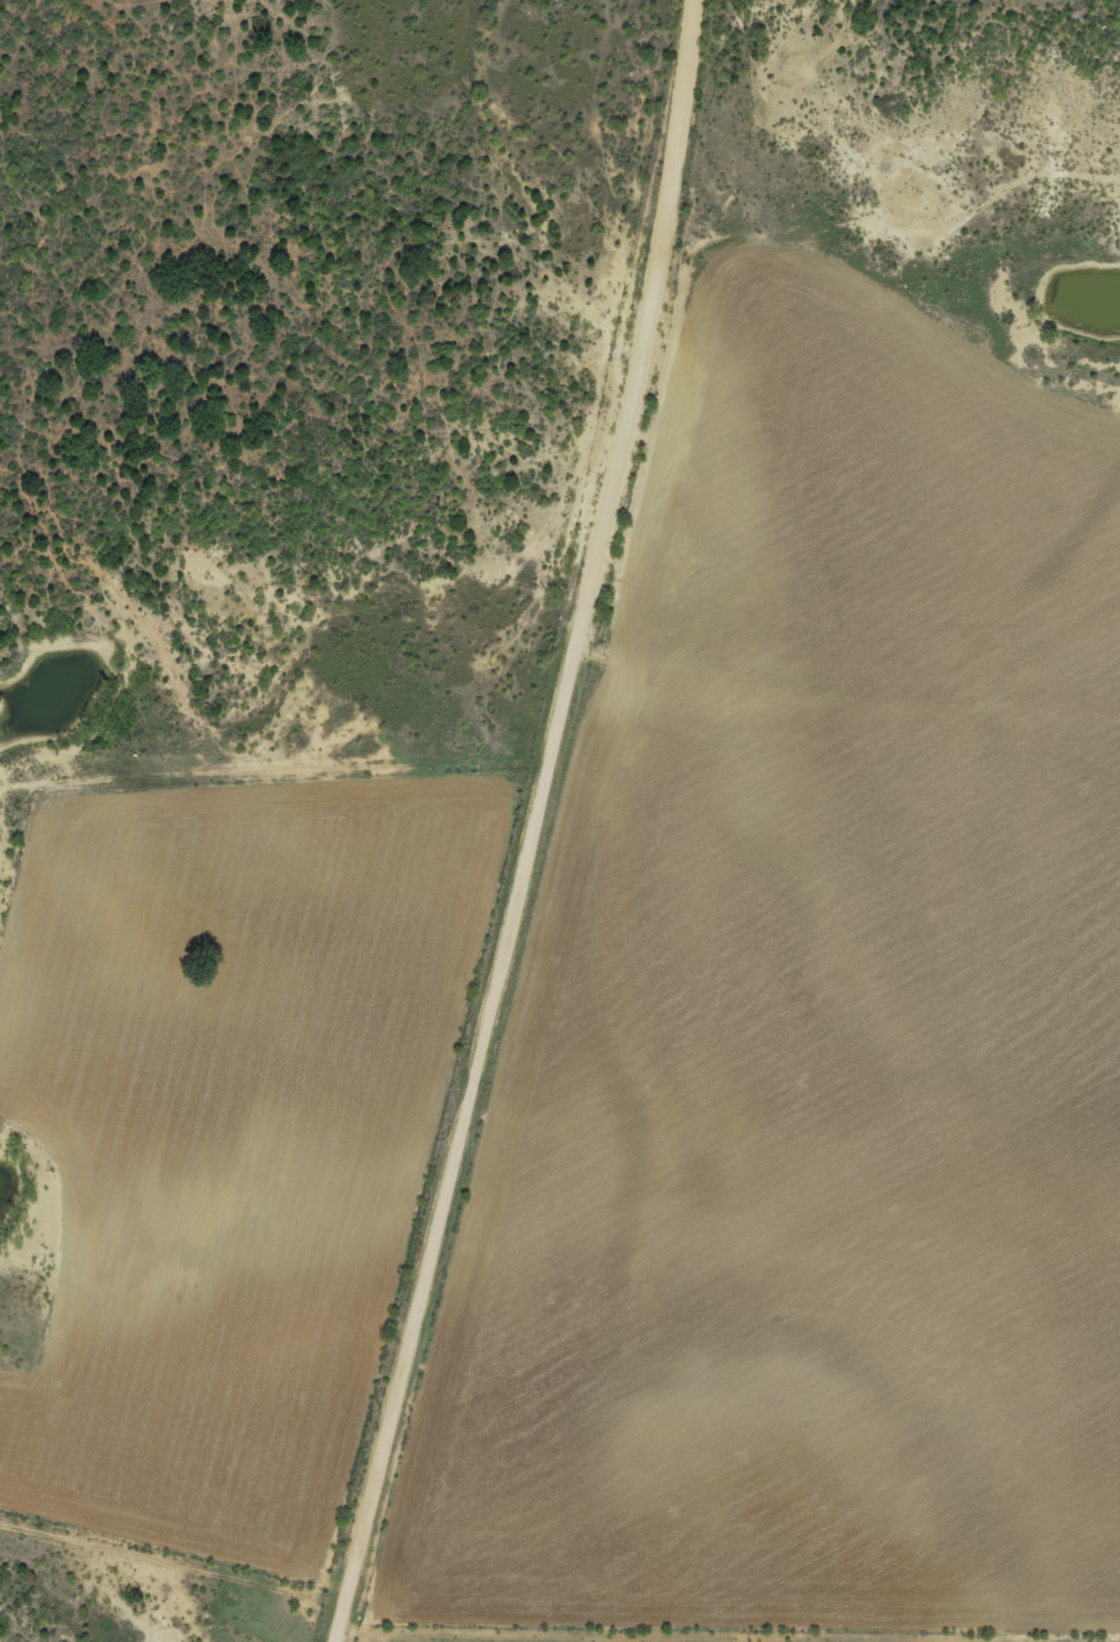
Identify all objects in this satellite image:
road: (696, 343)
road: (872, 689)
road: (613, 728)
road: (302, 756)
road: (500, 1208)

